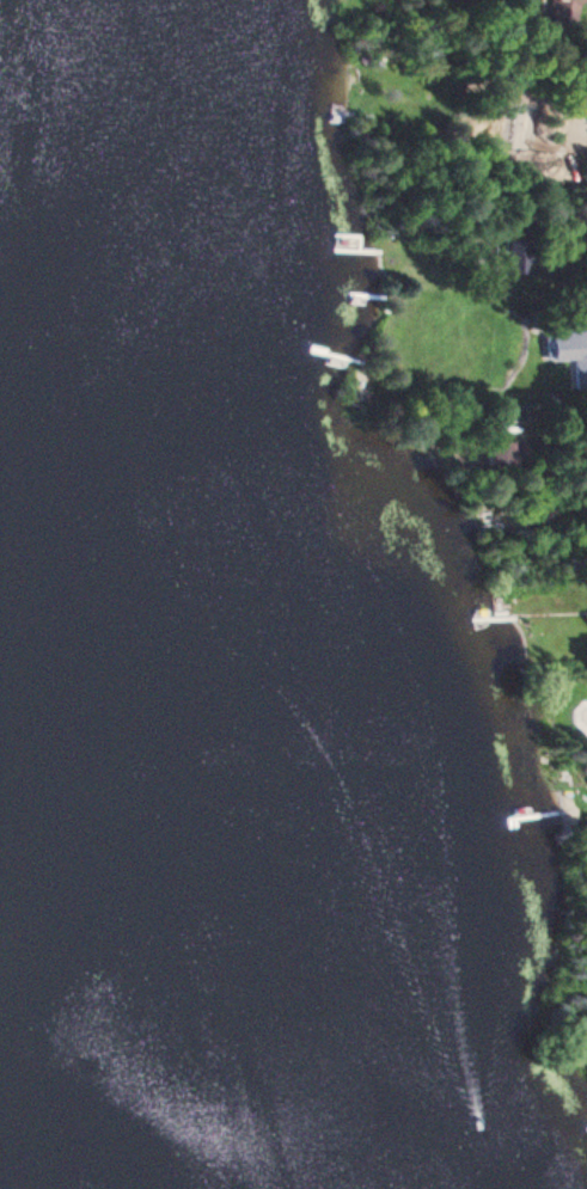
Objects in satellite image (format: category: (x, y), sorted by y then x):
building: (556, 11)
building: (568, 348)
building: (499, 453)

